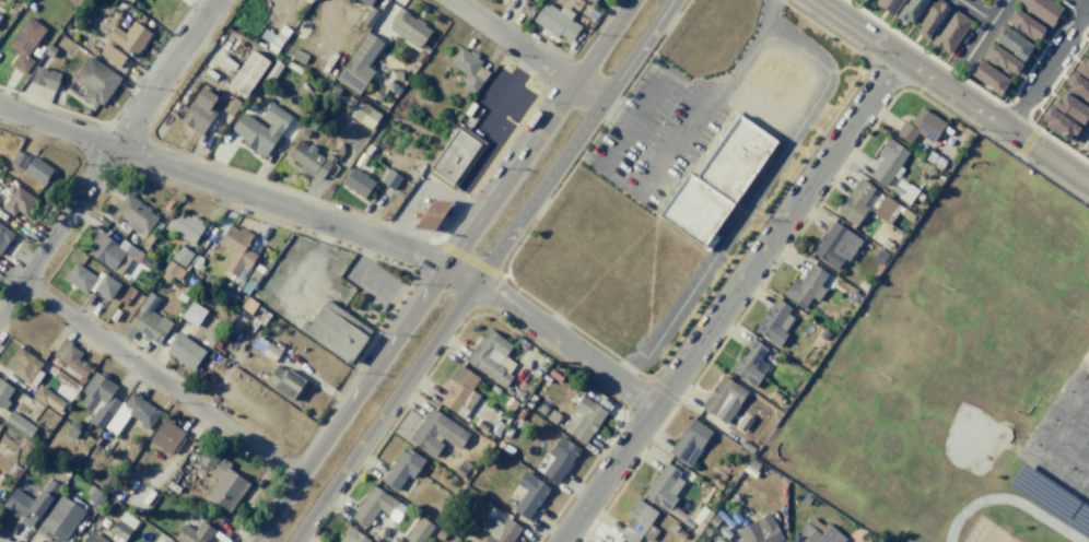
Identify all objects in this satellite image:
building: (131, 0)
building: (309, 0)
building: (592, 0)
building: (871, 0)
building: (979, 0)
building: (982, 0)
building: (127, 1)
building: (348, 1)
building: (365, 2)
building: (888, 4)
road: (1082, 4)
building: (1041, 10)
building: (909, 11)
road: (974, 11)
building: (370, 16)
building: (930, 16)
building: (555, 20)
building: (1024, 25)
building: (408, 27)
road: (1075, 27)
building: (950, 30)
road: (982, 34)
building: (129, 37)
building: (274, 38)
building: (24, 43)
building: (1014, 43)
building: (1087, 47)
road: (526, 49)
building: (49, 51)
building: (112, 55)
road: (747, 56)
building: (296, 57)
building: (1002, 60)
building: (358, 63)
road: (1046, 68)
building: (1084, 68)
building: (467, 69)
building: (247, 72)
building: (271, 73)
building: (397, 75)
building: (44, 78)
building: (988, 78)
building: (95, 81)
building: (393, 87)
building: (1079, 87)
building: (333, 90)
road: (687, 90)
road: (980, 91)
road: (953, 93)
building: (377, 97)
road: (1038, 104)
building: (229, 105)
building: (1070, 107)
road: (491, 109)
building: (199, 111)
building: (364, 114)
road: (1015, 114)
road: (632, 123)
building: (1058, 123)
building: (312, 125)
building: (921, 126)
building: (260, 128)
building: (303, 132)
road: (1084, 141)
road: (1027, 143)
road: (108, 156)
building: (455, 157)
building: (309, 160)
building: (934, 160)
building: (888, 162)
building: (32, 166)
building: (390, 179)
building: (714, 179)
building: (356, 184)
building: (903, 190)
building: (19, 201)
building: (854, 201)
building: (886, 209)
building: (431, 214)
building: (133, 216)
building: (185, 227)
road: (341, 227)
building: (4, 236)
building: (894, 236)
building: (882, 241)
building: (835, 245)
building: (236, 250)
building: (115, 252)
building: (180, 256)
building: (879, 257)
road: (443, 270)
building: (172, 271)
road: (481, 272)
building: (92, 281)
building: (806, 286)
road: (728, 298)
building: (192, 314)
building: (145, 320)
building: (236, 321)
building: (774, 322)
building: (335, 331)
building: (823, 334)
building: (264, 349)
building: (184, 351)
building: (68, 356)
building: (490, 356)
building: (748, 362)
building: (23, 366)
building: (1087, 367)
road: (161, 380)
building: (284, 381)
building: (459, 391)
building: (3, 394)
building: (46, 398)
building: (97, 398)
building: (723, 399)
building: (541, 410)
building: (134, 411)
building: (551, 416)
building: (583, 419)
building: (17, 424)
building: (436, 433)
building: (165, 436)
park: (971, 440)
building: (690, 441)
building: (746, 446)
building: (559, 459)
building: (401, 468)
building: (461, 468)
building: (222, 481)
building: (717, 484)
building: (664, 486)
building: (528, 494)
building: (1043, 494)
building: (95, 497)
building: (805, 499)
building: (30, 503)
building: (375, 506)
building: (691, 517)
building: (713, 519)
building: (58, 520)
building: (636, 520)
building: (1080, 521)
building: (122, 526)
building: (672, 527)
building: (419, 530)
building: (500, 530)
building: (764, 531)
building: (816, 532)
building: (195, 533)
building: (681, 533)
building: (352, 537)
building: (92, 538)
building: (163, 541)
building: (164, 541)

